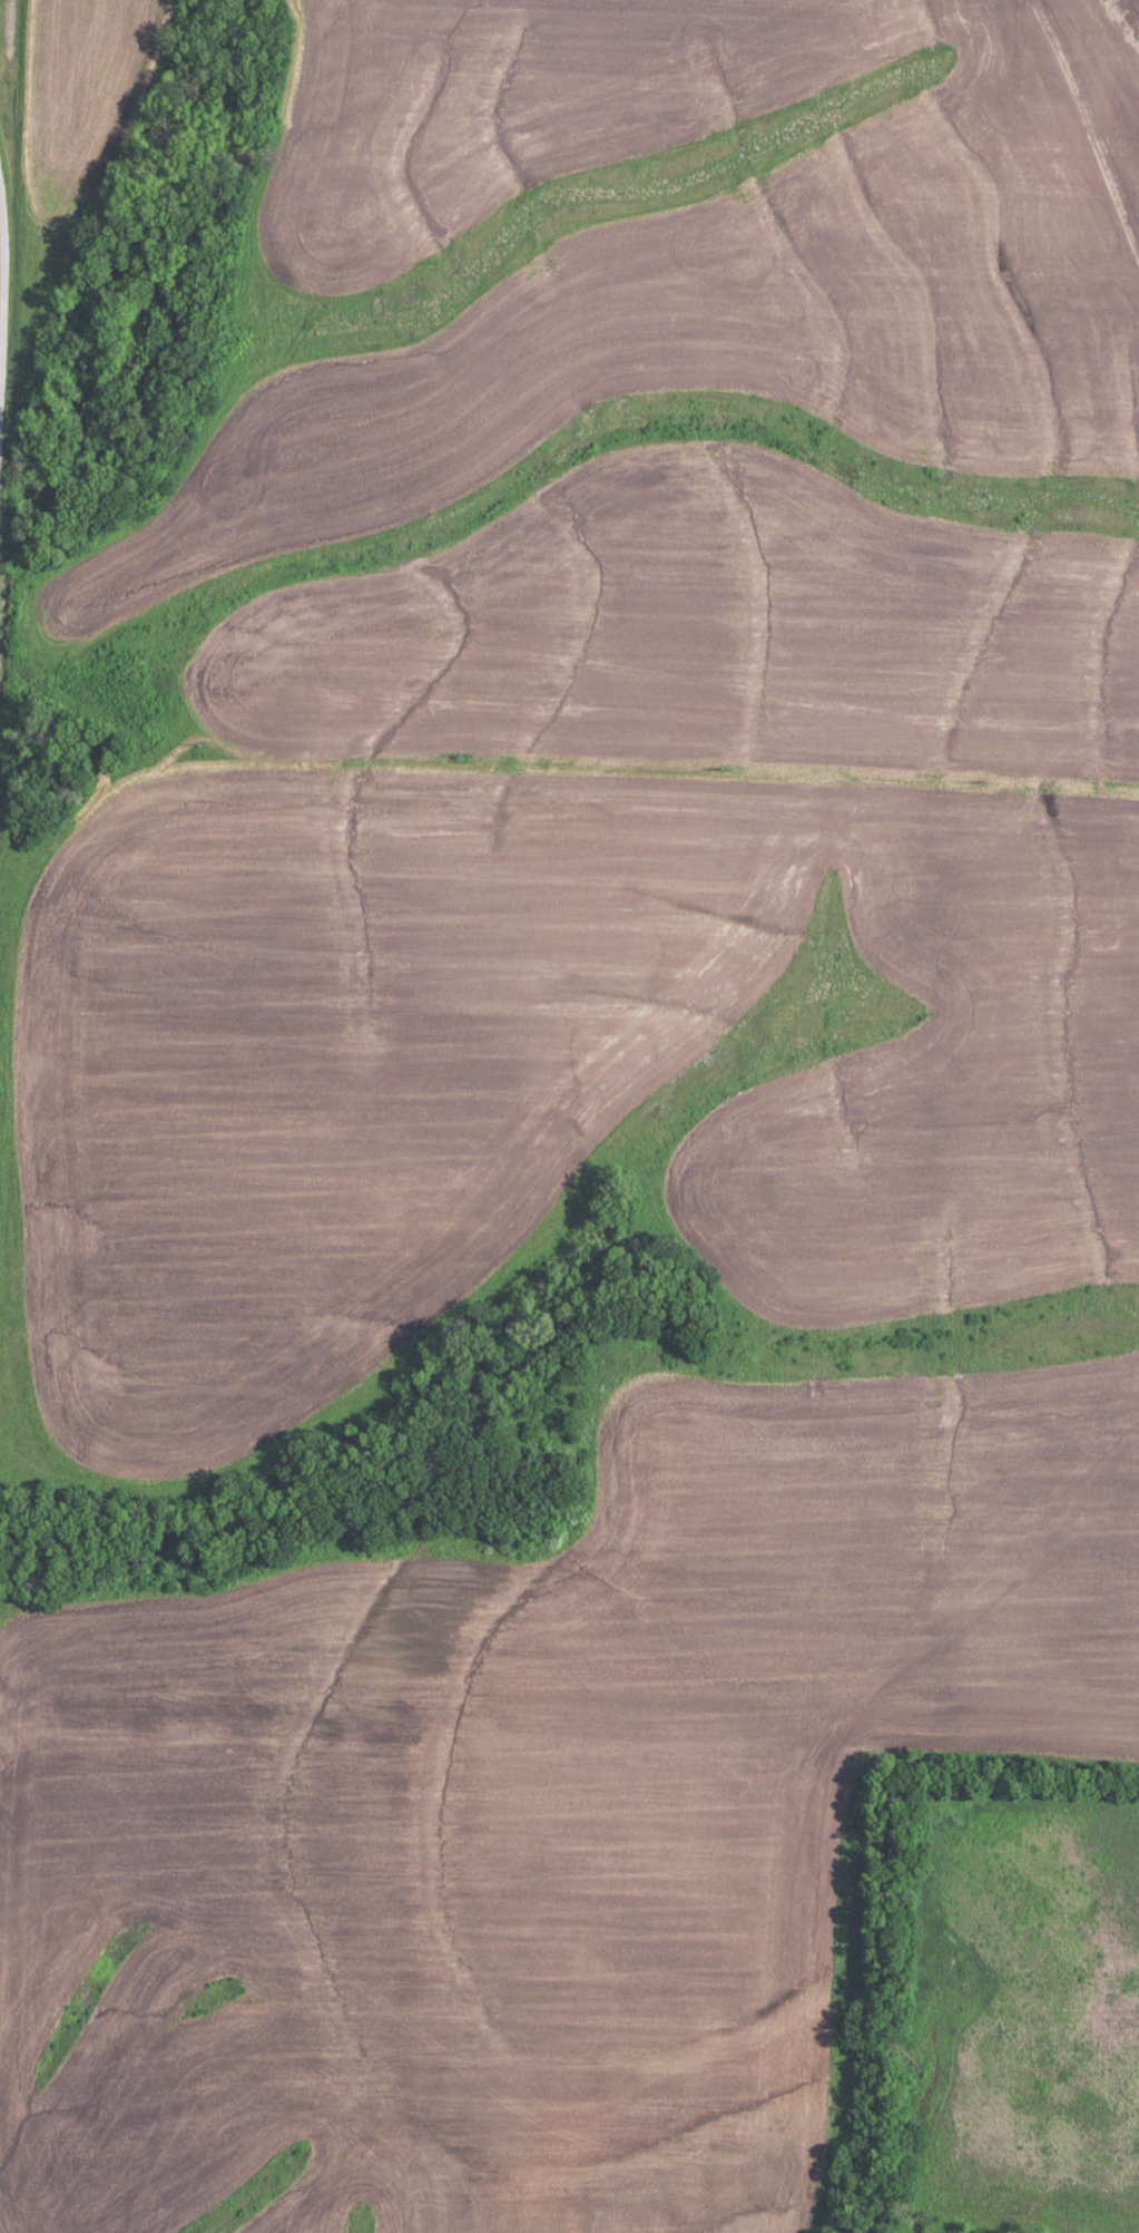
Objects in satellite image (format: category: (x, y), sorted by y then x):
road: (2, 256)

